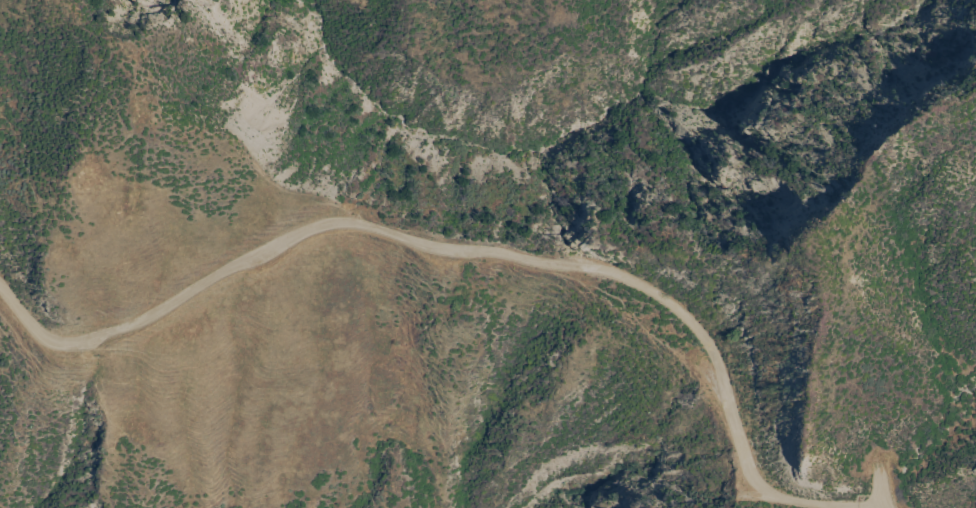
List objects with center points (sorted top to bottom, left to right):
road: (479, 246)

